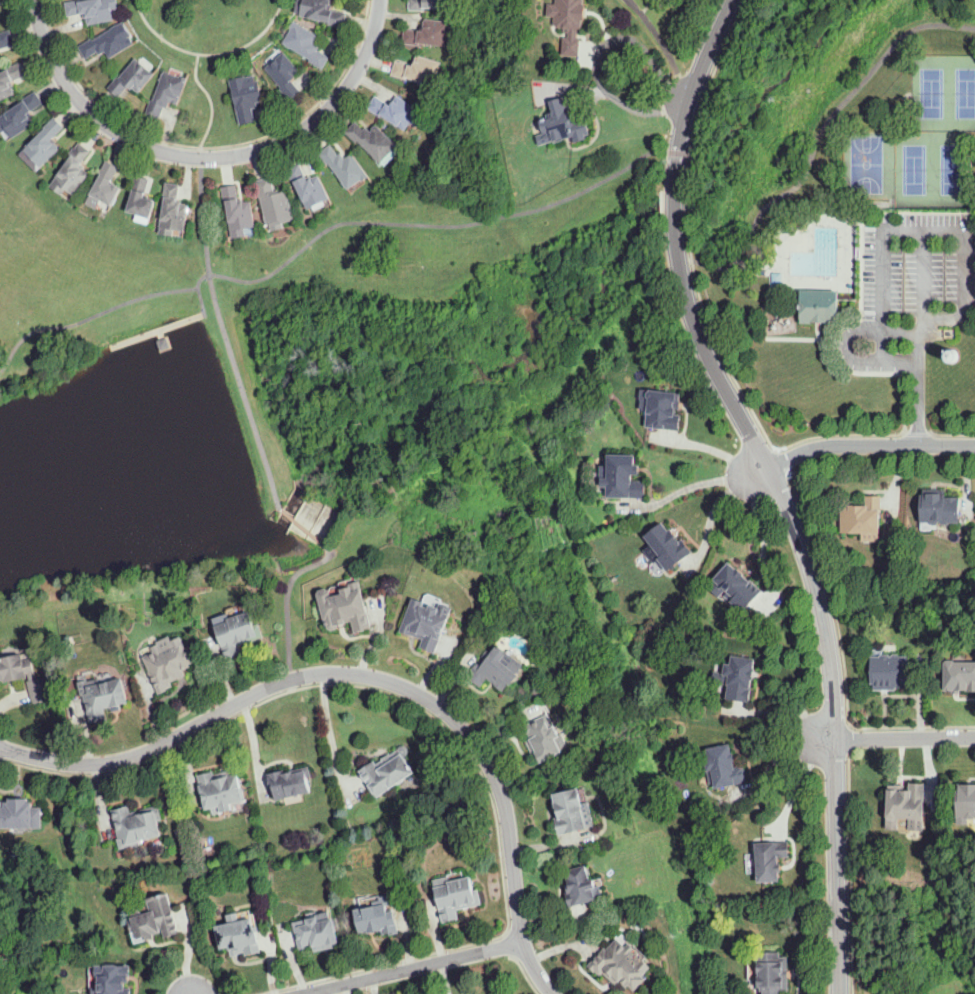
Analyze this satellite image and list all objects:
building: (427, 4)
building: (93, 9)
building: (321, 11)
building: (567, 23)
building: (428, 32)
building: (6, 39)
building: (109, 42)
building: (306, 45)
road: (665, 46)
road: (206, 53)
road: (599, 53)
building: (0, 59)
building: (418, 70)
building: (285, 75)
road: (711, 76)
building: (132, 78)
building: (10, 80)
park: (932, 92)
park: (965, 92)
building: (166, 94)
building: (246, 98)
road: (208, 104)
building: (395, 111)
building: (20, 115)
building: (562, 122)
road: (820, 135)
building: (373, 141)
building: (43, 146)
road: (207, 146)
road: (204, 157)
park: (867, 163)
building: (344, 166)
park: (914, 168)
park: (952, 169)
building: (72, 171)
building: (107, 184)
building: (308, 187)
building: (141, 198)
building: (274, 204)
road: (688, 208)
building: (173, 211)
building: (238, 212)
road: (327, 228)
road: (922, 229)
road: (688, 260)
building: (819, 306)
road: (848, 336)
road: (226, 337)
road: (921, 337)
building: (163, 342)
building: (951, 354)
road: (727, 360)
building: (663, 410)
road: (740, 413)
road: (876, 434)
road: (708, 446)
road: (869, 446)
road: (756, 470)
building: (623, 477)
road: (689, 486)
building: (939, 508)
road: (714, 511)
building: (862, 517)
road: (305, 528)
dam: (295, 530)
road: (763, 533)
building: (667, 546)
road: (829, 585)
building: (737, 586)
road: (288, 607)
building: (345, 608)
building: (426, 623)
building: (237, 632)
building: (172, 663)
building: (497, 665)
building: (16, 667)
building: (890, 672)
building: (959, 676)
road: (371, 677)
building: (739, 677)
road: (364, 686)
building: (39, 690)
building: (103, 697)
road: (780, 706)
road: (329, 729)
road: (916, 729)
building: (545, 738)
road: (821, 738)
road: (905, 739)
road: (772, 765)
building: (723, 767)
building: (388, 769)
building: (290, 782)
road: (796, 788)
building: (221, 791)
building: (906, 801)
building: (966, 801)
building: (572, 811)
building: (19, 814)
building: (137, 826)
road: (852, 857)
building: (770, 860)
building: (582, 886)
building: (455, 896)
road: (837, 913)
building: (377, 918)
building: (154, 919)
building: (315, 932)
building: (239, 935)
road: (381, 963)
building: (622, 964)
road: (412, 967)
building: (772, 972)
road: (444, 977)
building: (113, 979)
building: (914, 985)

